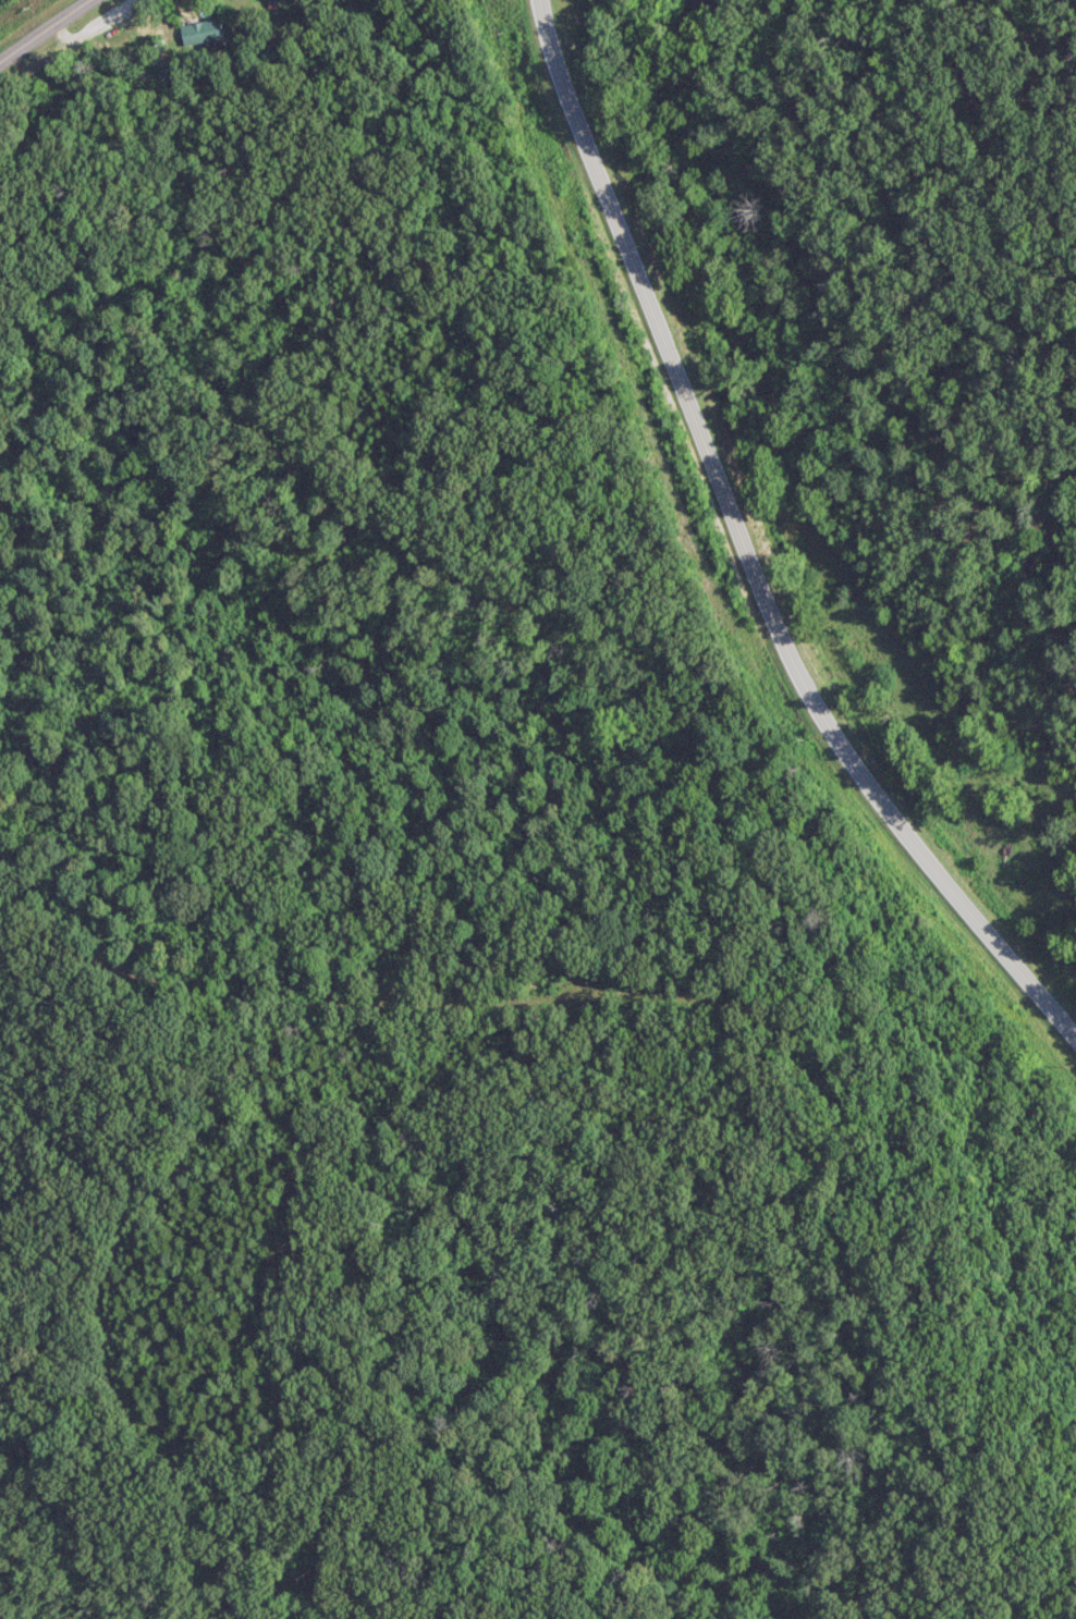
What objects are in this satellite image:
road: (41, 29)
building: (201, 30)
road: (744, 553)

